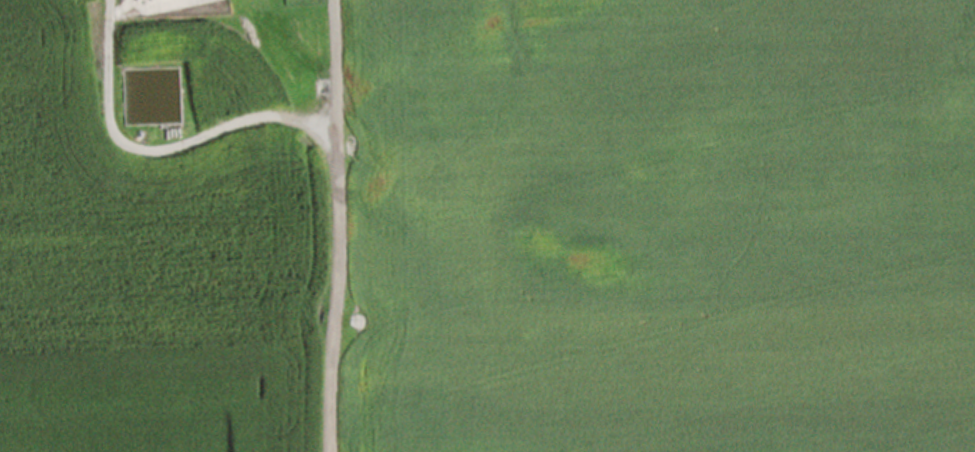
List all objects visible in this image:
road: (156, 144)
road: (332, 226)

